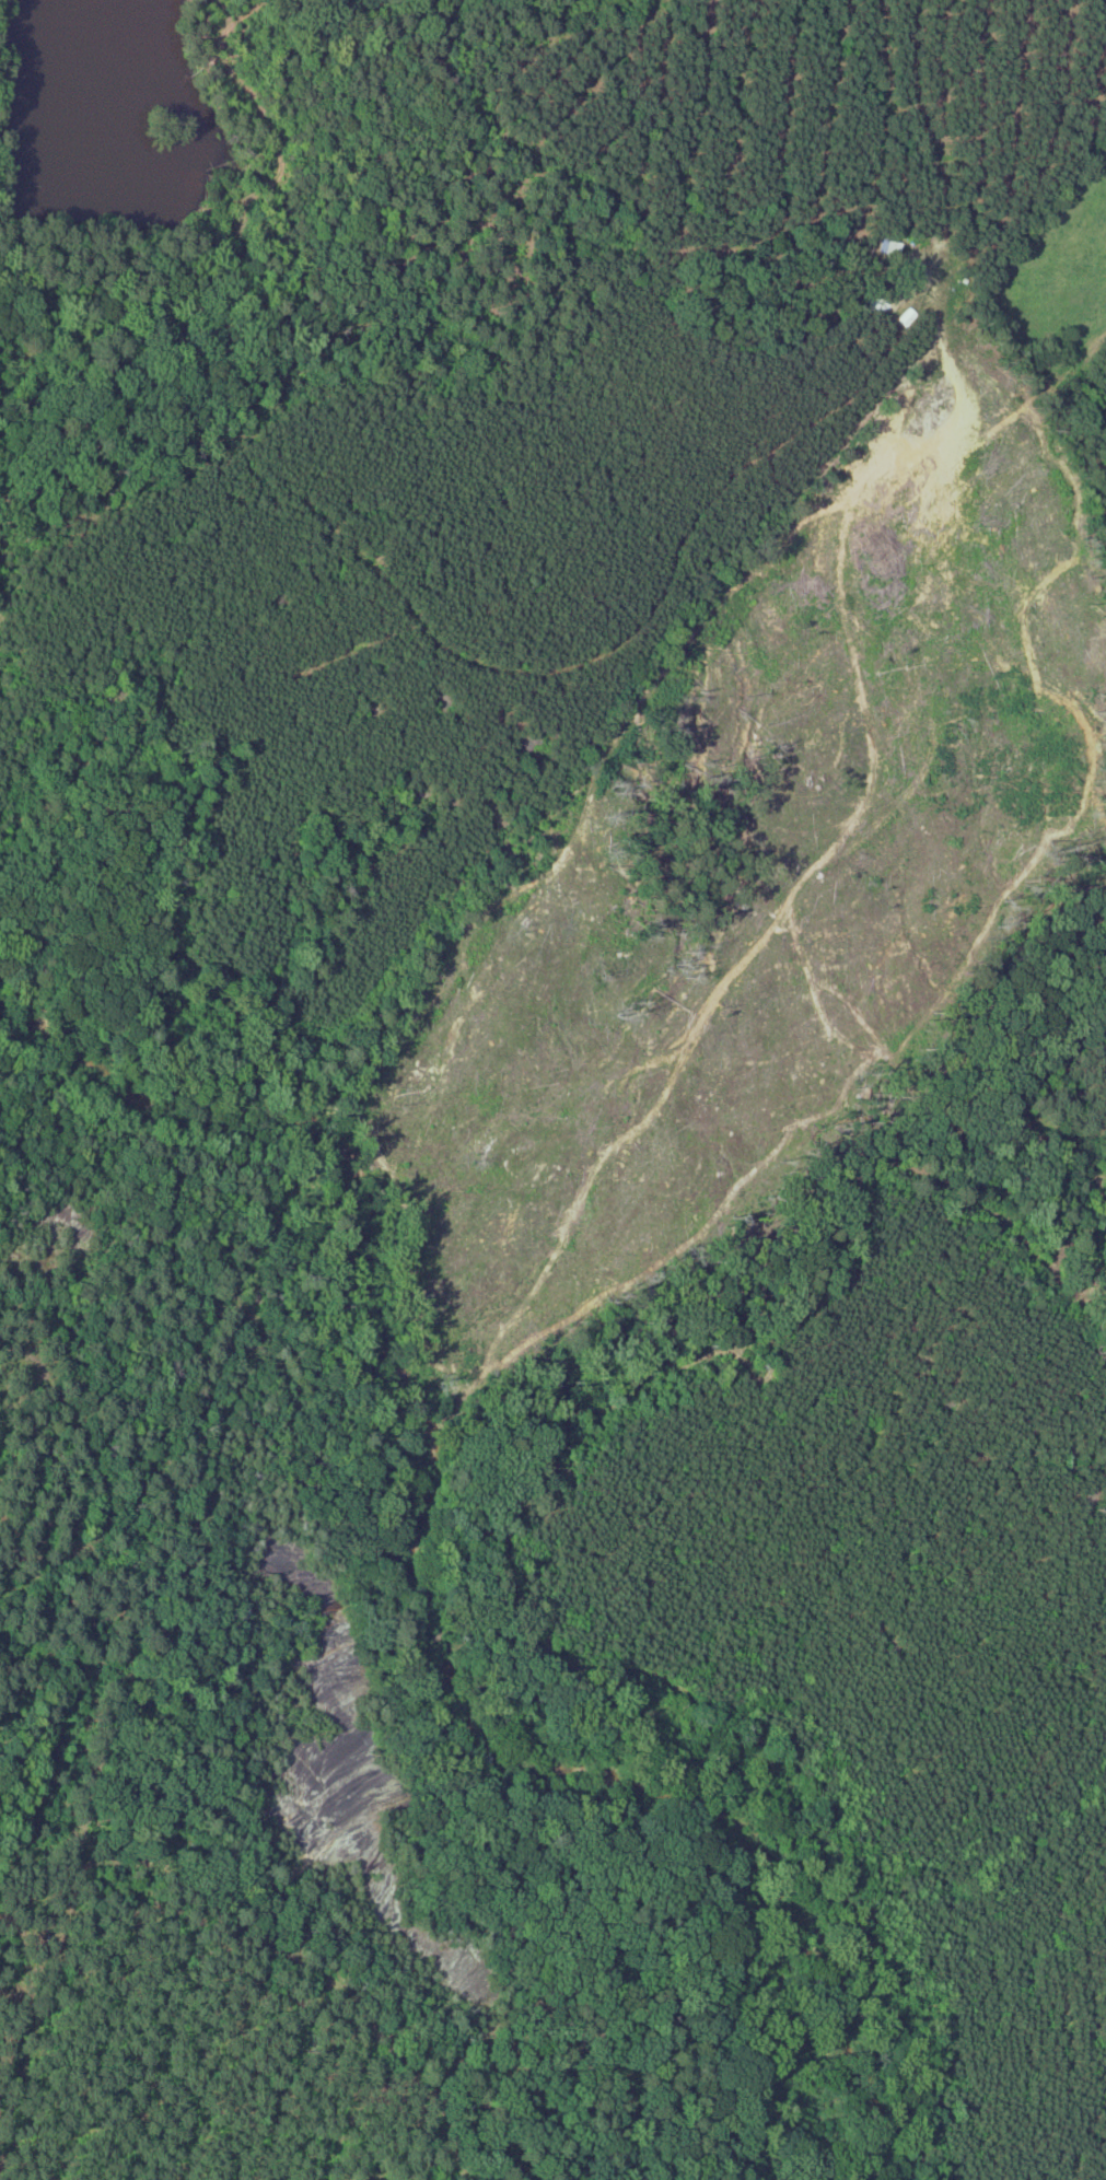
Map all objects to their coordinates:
dam: (46, 224)
dam: (130, 233)
dam: (209, 242)

